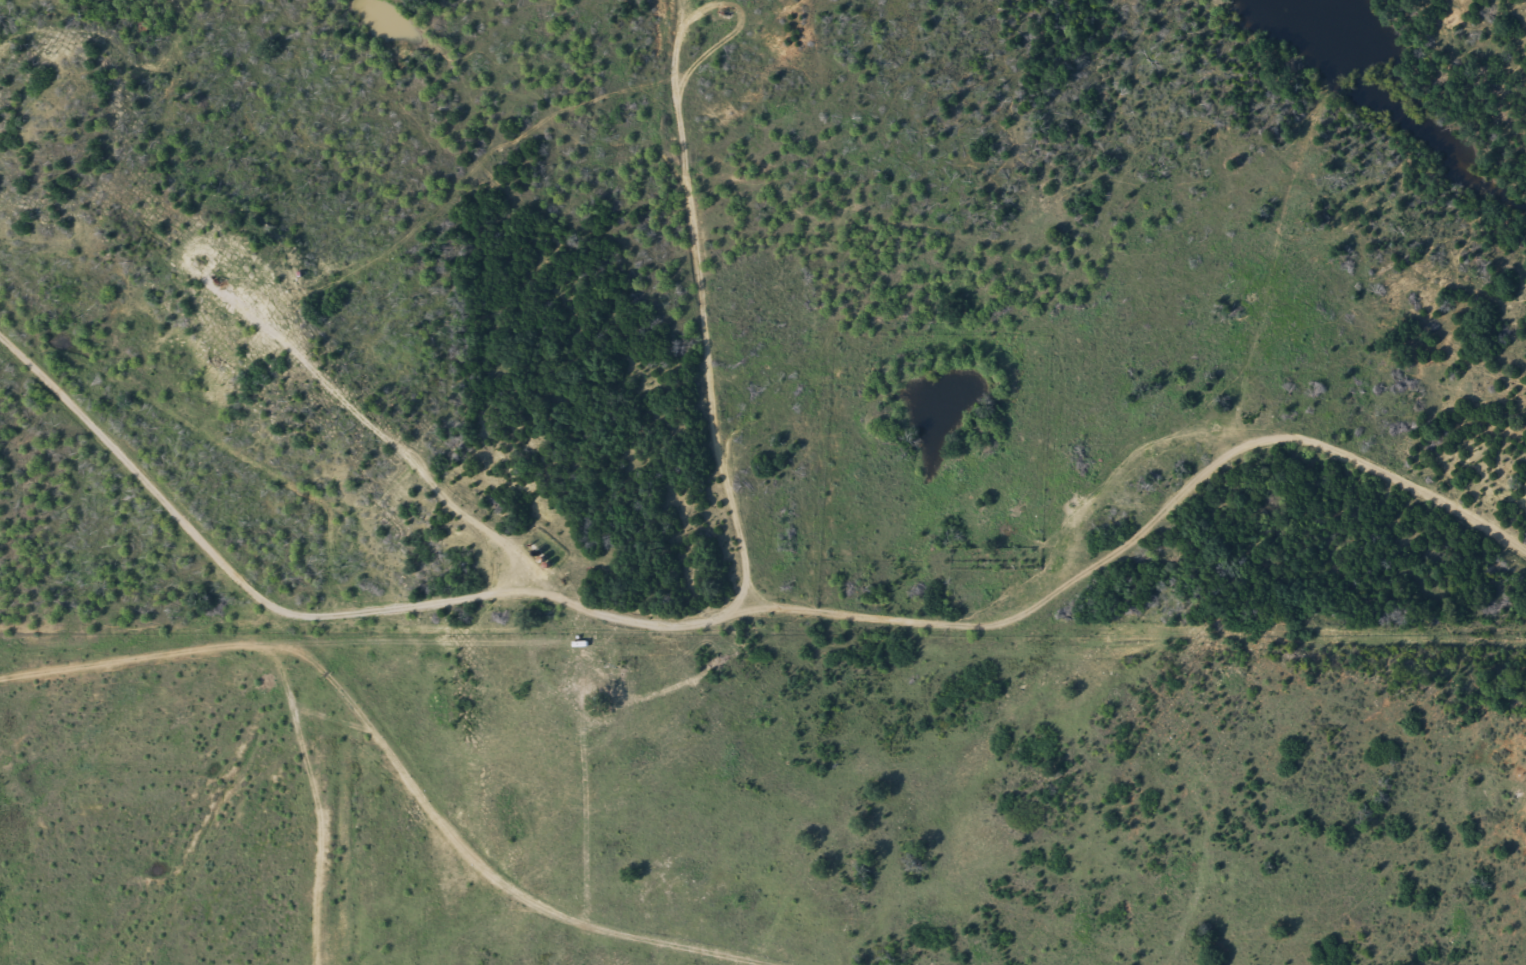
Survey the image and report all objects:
road: (103, 52)
road: (702, 303)
road: (149, 475)
road: (710, 624)
road: (376, 743)

